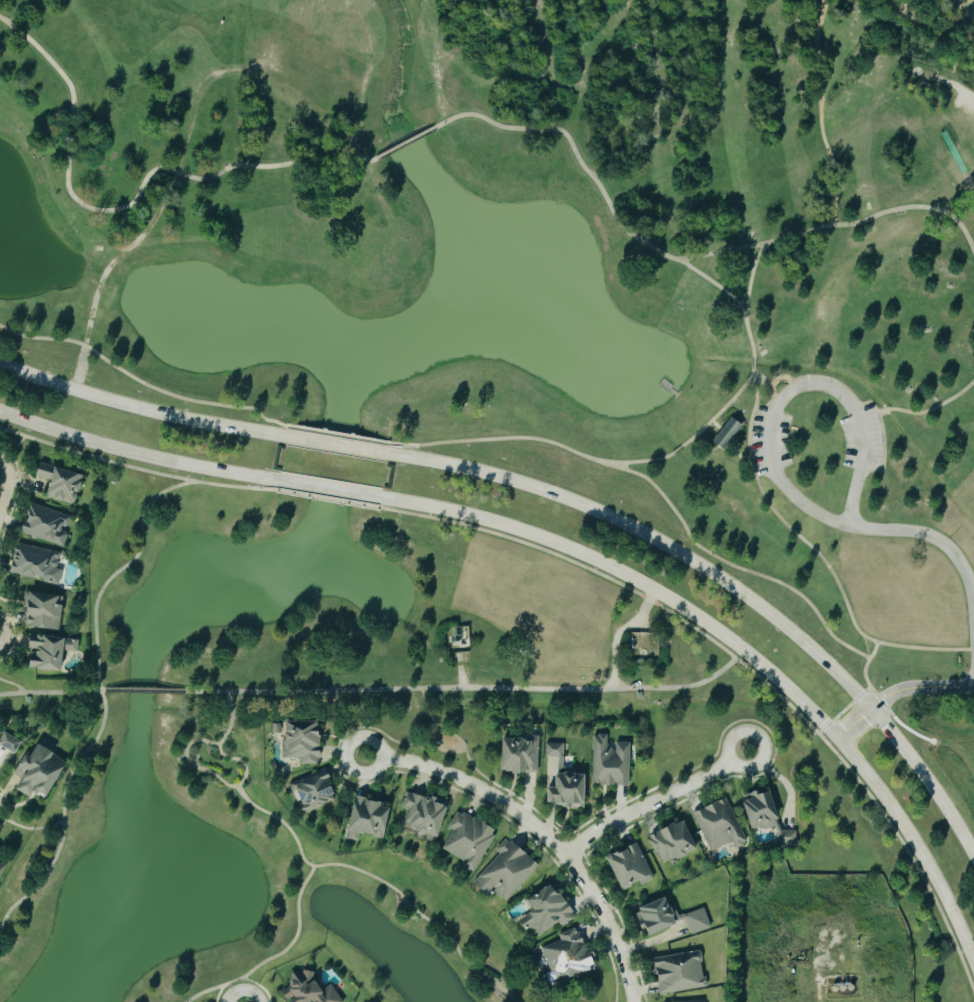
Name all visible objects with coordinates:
river: (971, 3)
road: (908, 10)
road: (821, 113)
road: (407, 142)
road: (601, 184)
road: (129, 204)
road: (912, 207)
road: (725, 251)
road: (757, 263)
road: (755, 362)
road: (140, 381)
pier: (667, 386)
road: (795, 387)
road: (139, 408)
road: (920, 411)
building: (726, 427)
park: (823, 430)
road: (337, 435)
parking lot: (769, 439)
parking lot: (861, 439)
road: (337, 446)
road: (136, 454)
road: (136, 468)
building: (62, 483)
road: (9, 485)
road: (328, 489)
road: (656, 493)
road: (327, 499)
park: (730, 507)
building: (47, 526)
road: (938, 540)
road: (819, 550)
building: (37, 564)
road: (731, 583)
building: (46, 612)
road: (738, 648)
building: (51, 652)
road: (746, 667)
road: (863, 674)
road: (12, 684)
road: (468, 690)
road: (898, 690)
road: (49, 692)
road: (140, 692)
road: (100, 695)
building: (304, 741)
building: (9, 742)
building: (521, 754)
building: (611, 762)
road: (189, 765)
building: (40, 772)
building: (566, 779)
building: (319, 789)
road: (656, 801)
building: (426, 813)
building: (769, 817)
building: (369, 818)
building: (718, 826)
road: (30, 828)
road: (542, 833)
building: (467, 837)
building: (672, 842)
building: (2, 865)
road: (323, 865)
building: (631, 867)
building: (507, 870)
building: (548, 911)
building: (659, 916)
building: (698, 921)
road: (277, 955)
building: (569, 956)
petroleum well: (802, 960)
building: (681, 972)
road: (816, 984)
building: (833, 987)
storage tank: (833, 987)
building: (840, 987)
storage tank: (840, 987)
building: (848, 987)
storage tank: (848, 987)
building: (309, 989)
building: (696, 1001)

